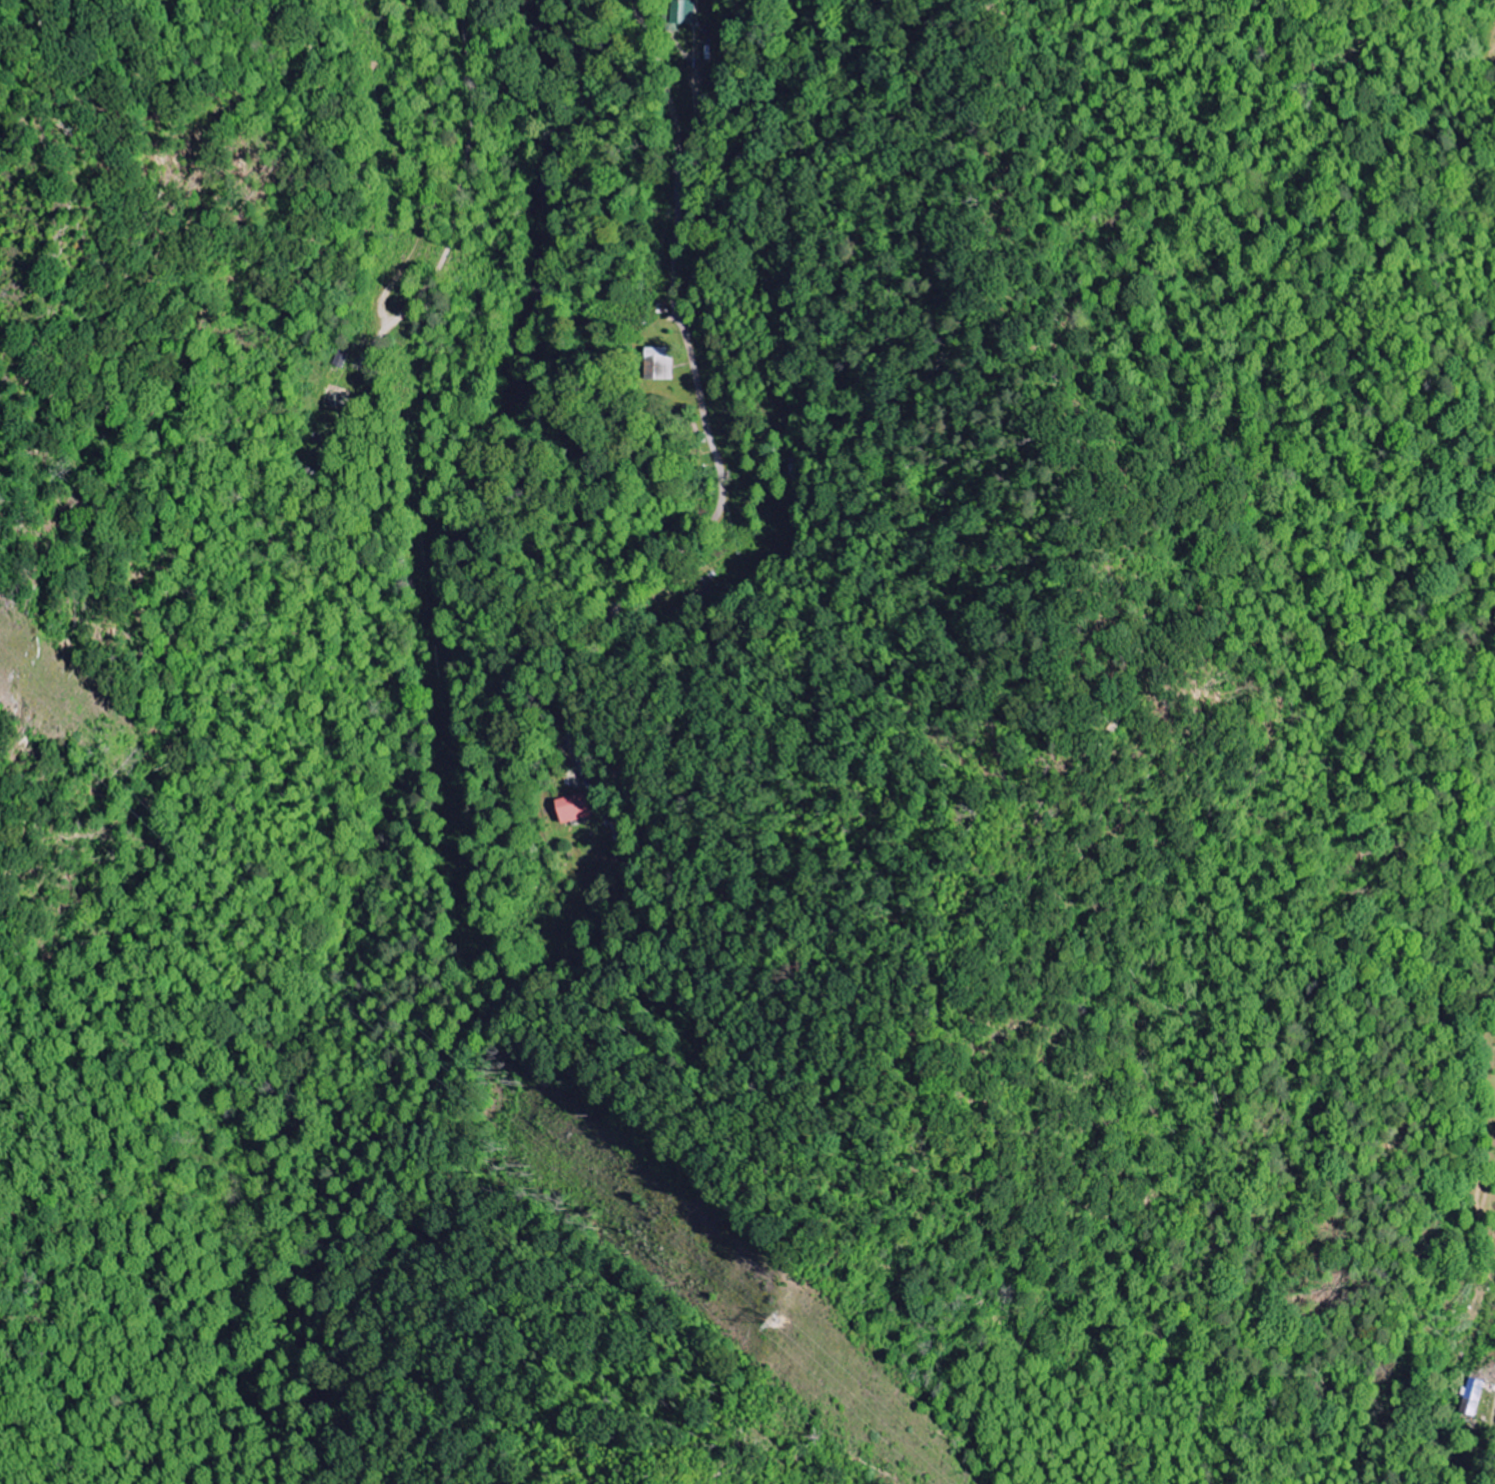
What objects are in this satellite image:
building: (682, 12)
road: (394, 316)
building: (340, 359)
building: (659, 364)
road: (696, 375)
building: (573, 808)
building: (1475, 1389)
road: (1493, 1450)

